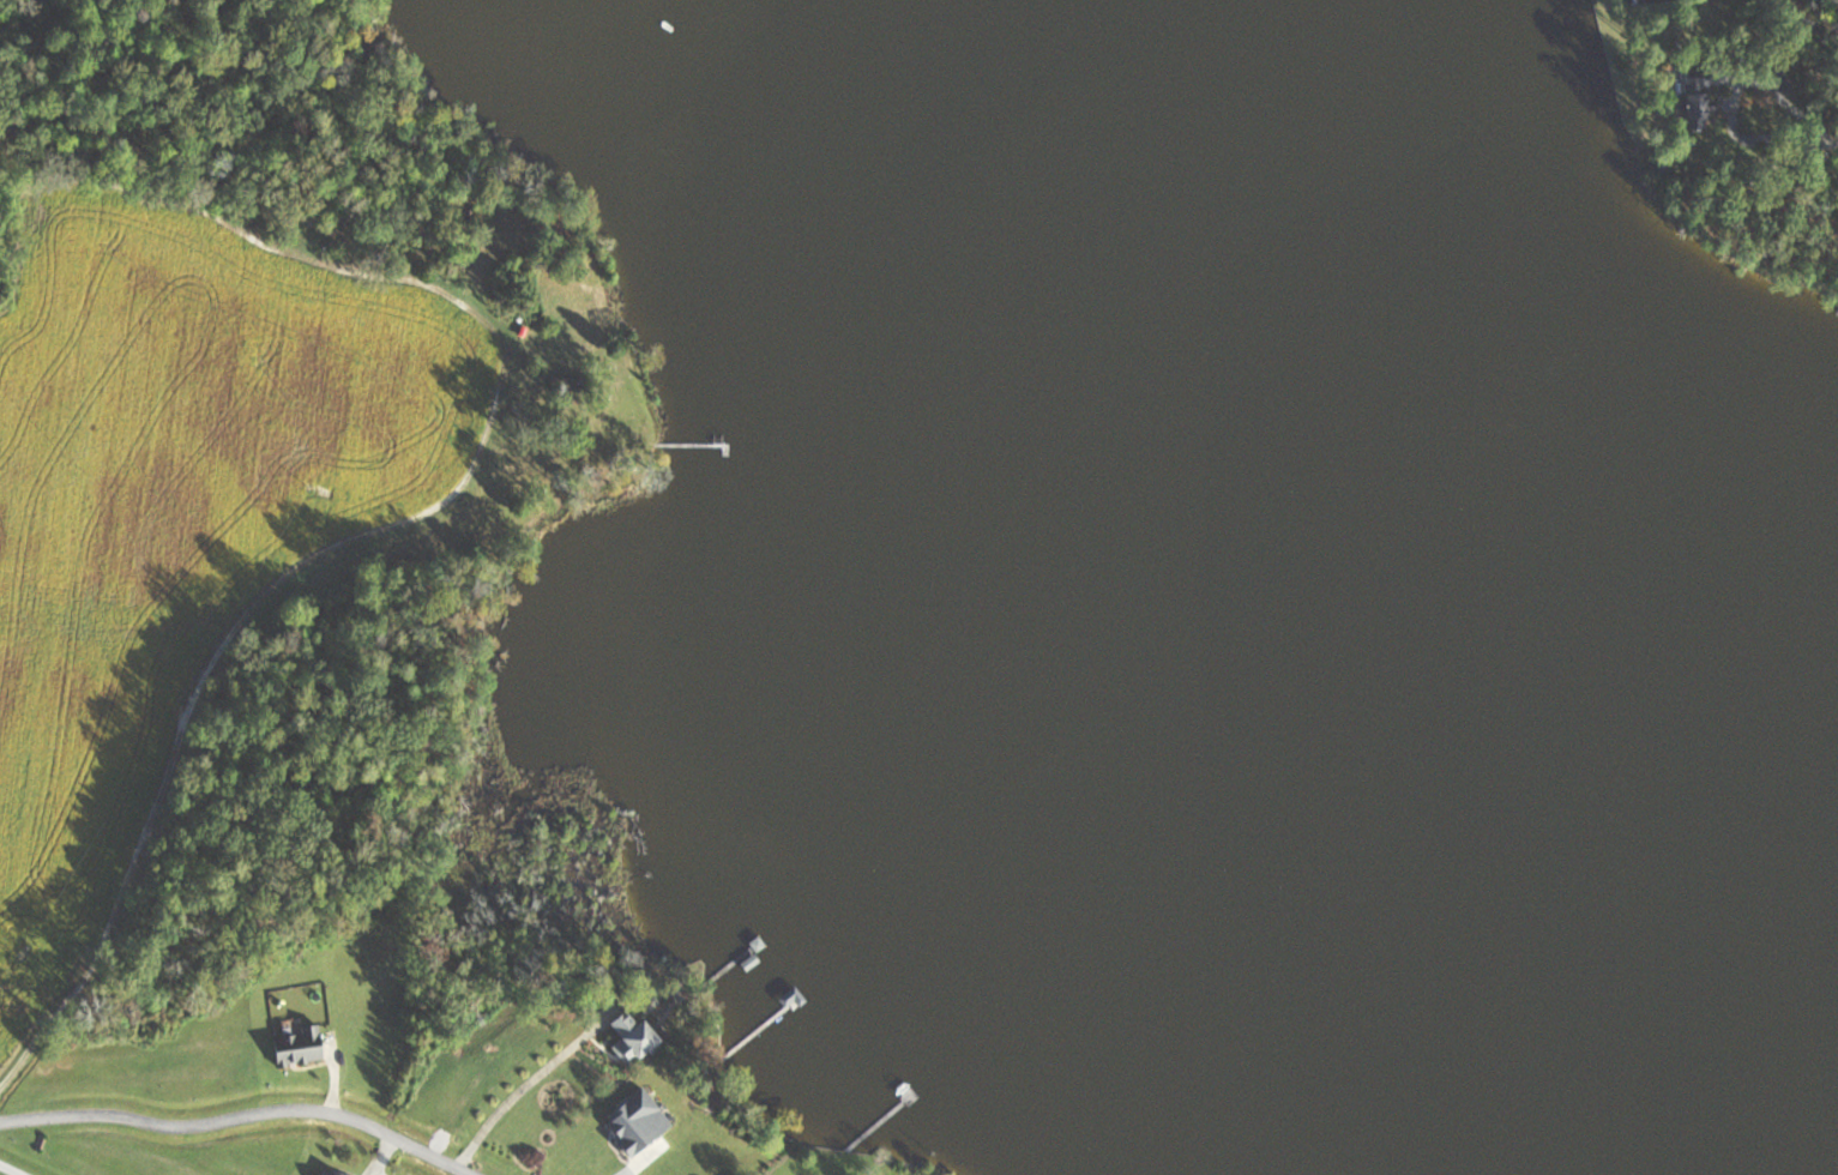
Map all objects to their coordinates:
building: (1688, 102)
road: (132, 872)
building: (625, 1037)
building: (294, 1047)
road: (243, 1115)
road: (12, 1168)
building: (325, 1171)

